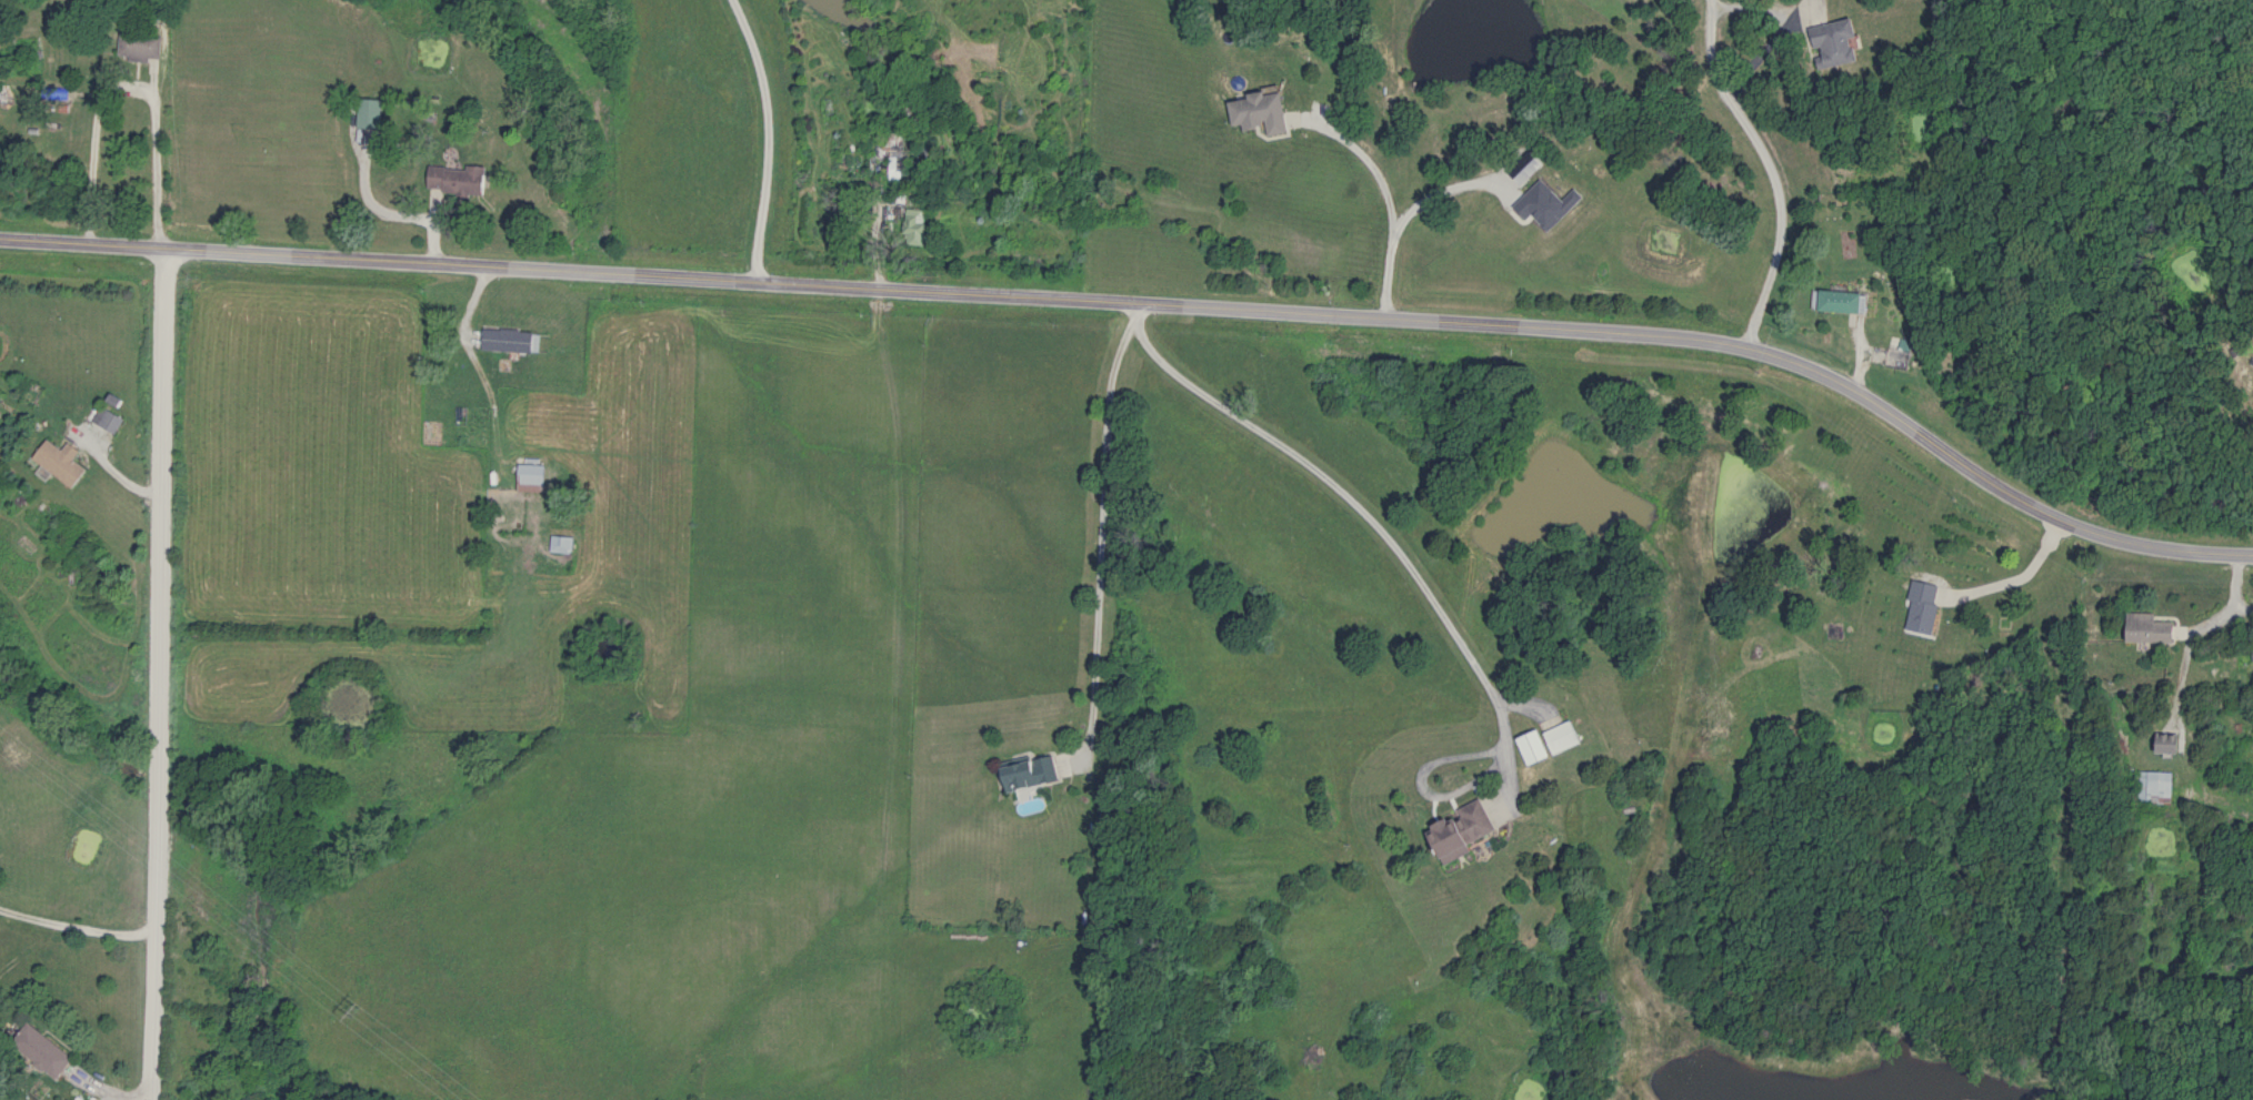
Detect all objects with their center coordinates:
road: (1774, 30)
building: (1835, 42)
building: (141, 46)
building: (2252, 80)
road: (127, 83)
building: (370, 113)
road: (761, 138)
road: (1763, 169)
building: (457, 179)
road: (1436, 191)
road: (1383, 199)
road: (392, 213)
building: (917, 225)
building: (1842, 301)
road: (1152, 304)
building: (509, 341)
building: (1900, 359)
building: (61, 462)
building: (531, 477)
road: (1363, 516)
building: (561, 544)
road: (1095, 546)
road: (2016, 574)
building: (1924, 606)
building: (2151, 628)
road: (154, 673)
building: (1562, 737)
building: (2171, 743)
building: (1031, 774)
building: (2155, 787)
building: (1464, 829)
road: (76, 926)
power tower: (354, 1012)
building: (41, 1051)

